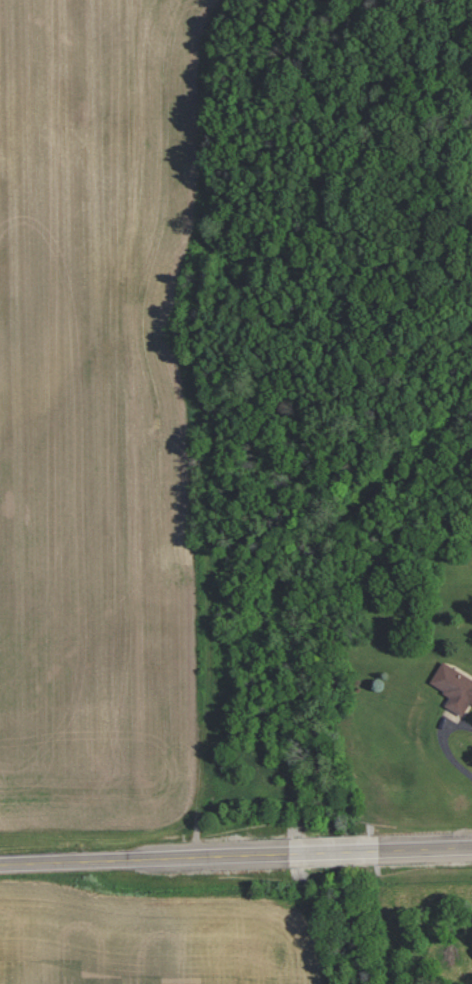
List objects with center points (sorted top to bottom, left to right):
building: (453, 687)
road: (444, 744)
road: (235, 855)

